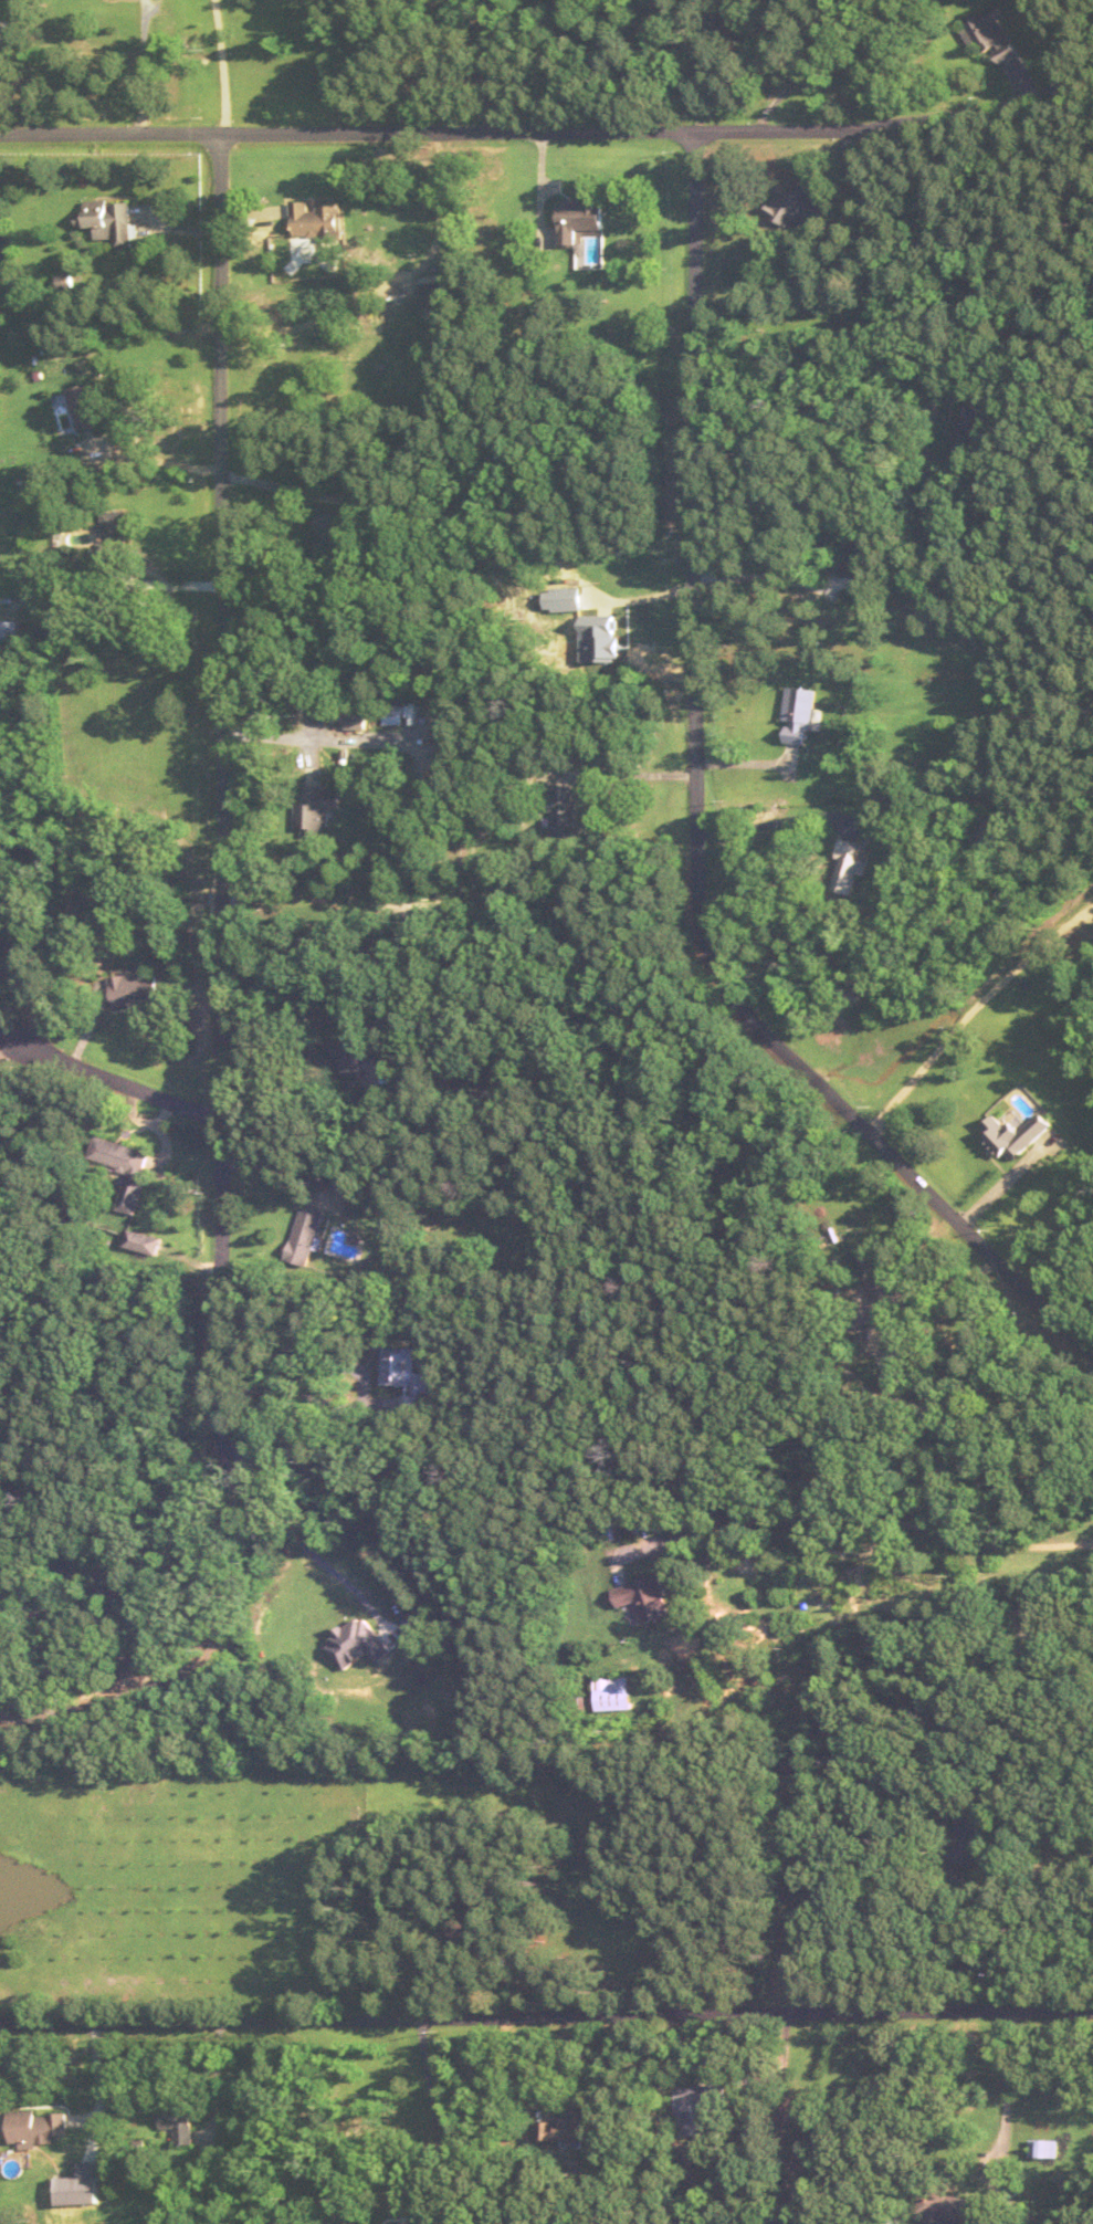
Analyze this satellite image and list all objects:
building: (989, 34)
road: (345, 132)
building: (798, 203)
building: (109, 219)
building: (580, 219)
building: (316, 220)
building: (434, 293)
building: (87, 405)
building: (975, 430)
building: (335, 528)
building: (114, 537)
building: (862, 557)
building: (568, 598)
building: (8, 629)
road: (222, 707)
building: (802, 713)
building: (561, 808)
building: (316, 809)
road: (700, 820)
building: (850, 867)
building: (18, 927)
building: (136, 988)
building: (375, 1045)
building: (350, 1049)
road: (109, 1076)
building: (1018, 1136)
building: (124, 1166)
building: (307, 1236)
building: (144, 1242)
building: (886, 1297)
building: (406, 1376)
building: (900, 1376)
road: (871, 1515)
road: (227, 1565)
building: (645, 1598)
building: (1005, 1649)
building: (611, 1693)
building: (500, 1913)
road: (546, 2015)
building: (703, 2107)
building: (178, 2120)
building: (576, 2125)
building: (38, 2126)
building: (1045, 2147)
building: (948, 2205)
building: (367, 2223)

